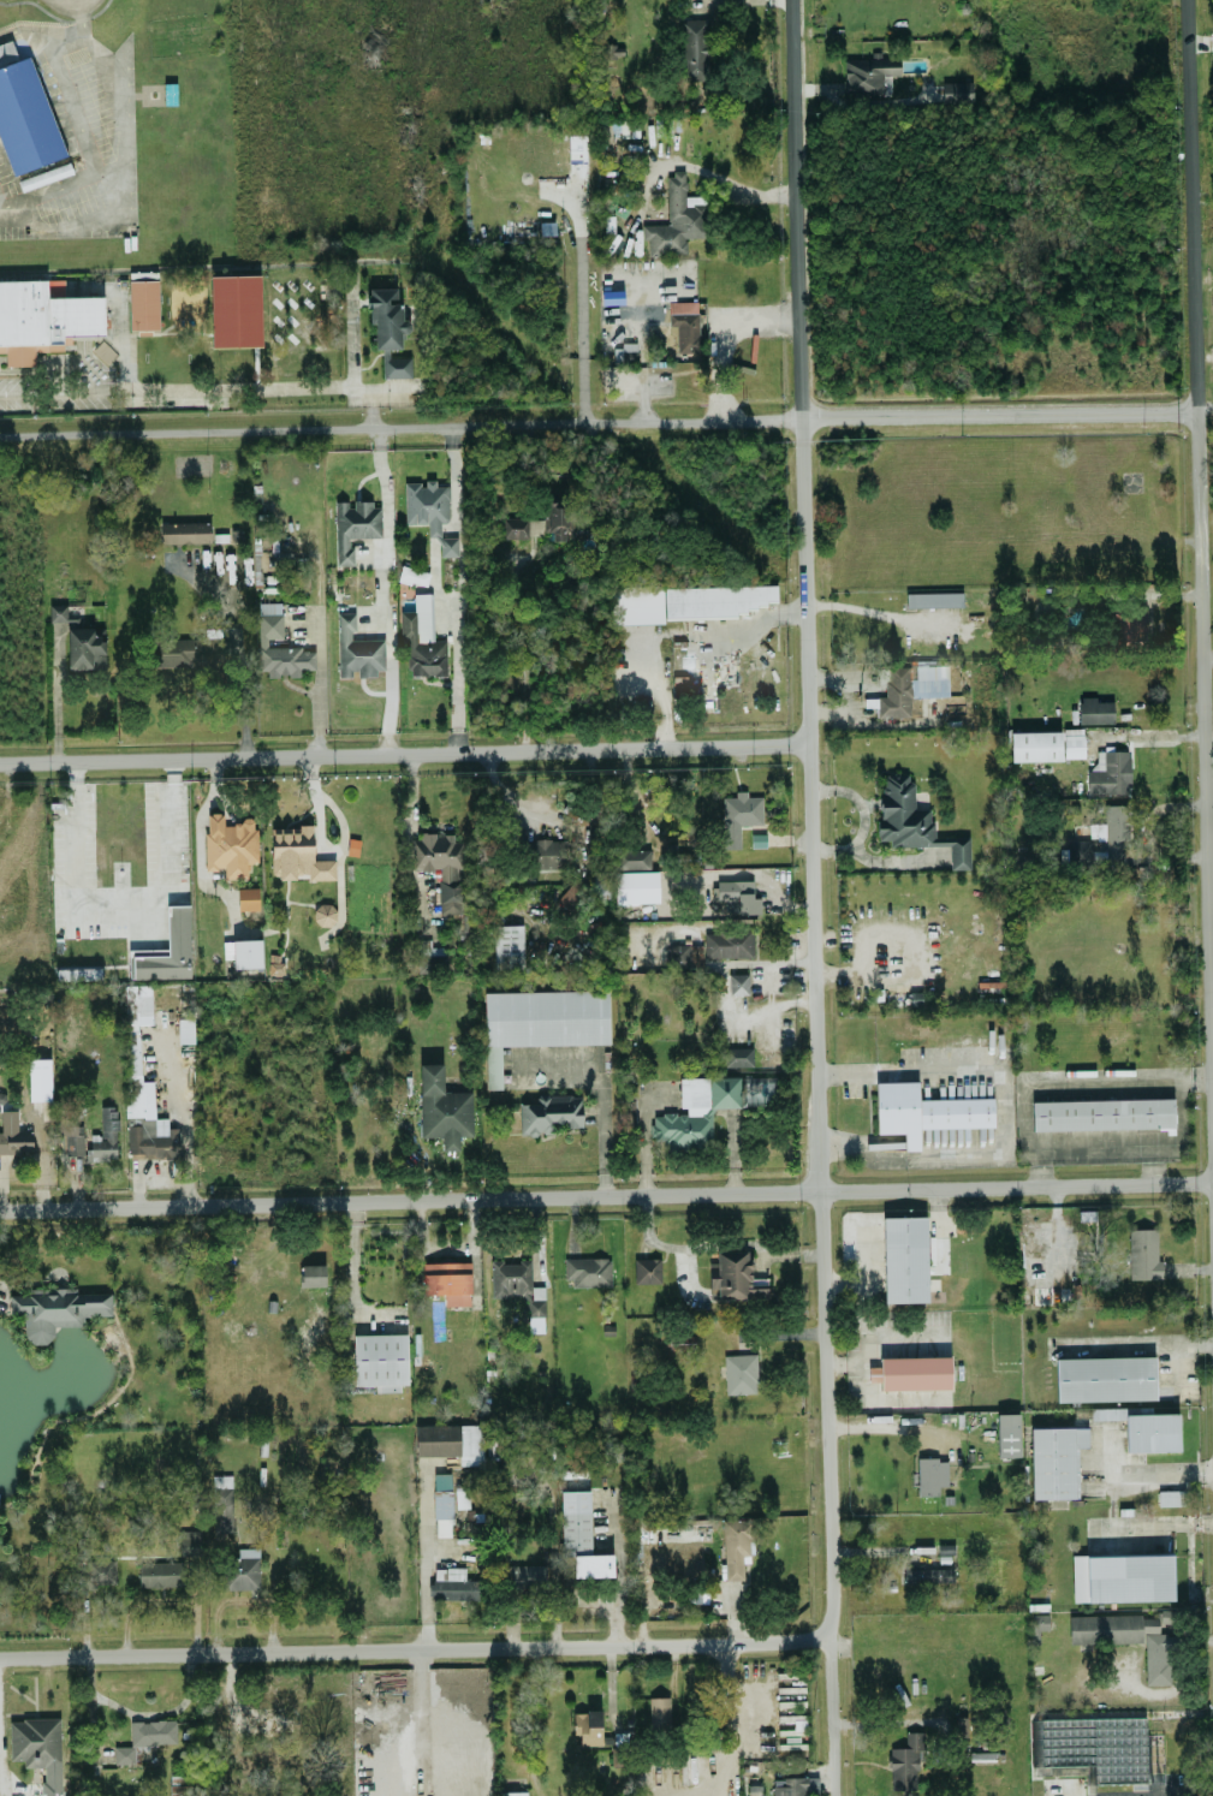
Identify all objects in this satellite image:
road: (81, 4)
road: (83, 20)
building: (694, 48)
building: (869, 73)
building: (958, 90)
building: (24, 113)
road: (124, 182)
road: (744, 185)
building: (677, 219)
road: (582, 269)
building: (143, 303)
building: (386, 316)
building: (42, 319)
building: (686, 325)
building: (624, 351)
building: (397, 364)
road: (274, 383)
road: (64, 388)
road: (583, 388)
road: (370, 397)
road: (1207, 410)
road: (826, 414)
road: (225, 430)
road: (1202, 436)
building: (430, 512)
building: (542, 523)
building: (355, 524)
building: (185, 531)
building: (411, 575)
building: (355, 578)
road: (380, 587)
building: (932, 599)
building: (718, 600)
building: (55, 612)
building: (357, 619)
building: (1123, 628)
building: (421, 640)
building: (85, 647)
building: (278, 647)
building: (357, 649)
building: (186, 650)
road: (237, 654)
building: (893, 692)
building: (1094, 710)
building: (1070, 743)
building: (1033, 745)
road: (409, 749)
building: (1108, 773)
building: (738, 815)
building: (911, 820)
building: (1114, 831)
building: (228, 844)
building: (1078, 852)
building: (297, 854)
building: (546, 854)
building: (632, 858)
building: (441, 862)
building: (599, 881)
building: (572, 891)
building: (738, 893)
road: (822, 897)
building: (248, 898)
building: (322, 912)
road: (118, 914)
building: (726, 944)
building: (506, 945)
building: (167, 948)
building: (248, 952)
building: (685, 953)
building: (430, 962)
building: (274, 967)
building: (78, 971)
building: (738, 982)
building: (539, 1021)
building: (185, 1029)
building: (738, 1055)
building: (40, 1076)
road: (1066, 1082)
road: (602, 1088)
building: (442, 1107)
building: (694, 1111)
building: (922, 1111)
building: (547, 1112)
building: (1101, 1113)
building: (16, 1135)
building: (103, 1136)
building: (149, 1140)
building: (69, 1142)
road: (1182, 1143)
road: (606, 1193)
road: (446, 1247)
building: (1143, 1253)
building: (905, 1257)
building: (647, 1268)
building: (588, 1269)
building: (313, 1273)
building: (735, 1275)
building: (513, 1278)
building: (448, 1280)
building: (57, 1309)
building: (685, 1340)
road: (1144, 1344)
building: (380, 1360)
building: (741, 1372)
building: (912, 1372)
building: (1105, 1378)
road: (887, 1425)
building: (1144, 1427)
building: (1007, 1433)
building: (436, 1439)
building: (471, 1443)
building: (614, 1449)
building: (1054, 1458)
road: (1140, 1469)
building: (930, 1474)
building: (1171, 1495)
building: (462, 1497)
building: (220, 1500)
building: (442, 1513)
building: (581, 1535)
building: (190, 1541)
building: (737, 1544)
road: (423, 1557)
building: (240, 1568)
building: (100, 1570)
building: (160, 1572)
building: (928, 1574)
building: (1122, 1576)
building: (453, 1583)
road: (161, 1598)
road: (242, 1598)
building: (1039, 1620)
building: (1130, 1639)
road: (418, 1646)
building: (659, 1711)
road: (143, 1713)
building: (588, 1725)
building: (145, 1736)
building: (38, 1748)
building: (905, 1762)
building: (792, 1785)
building: (512, 1792)

